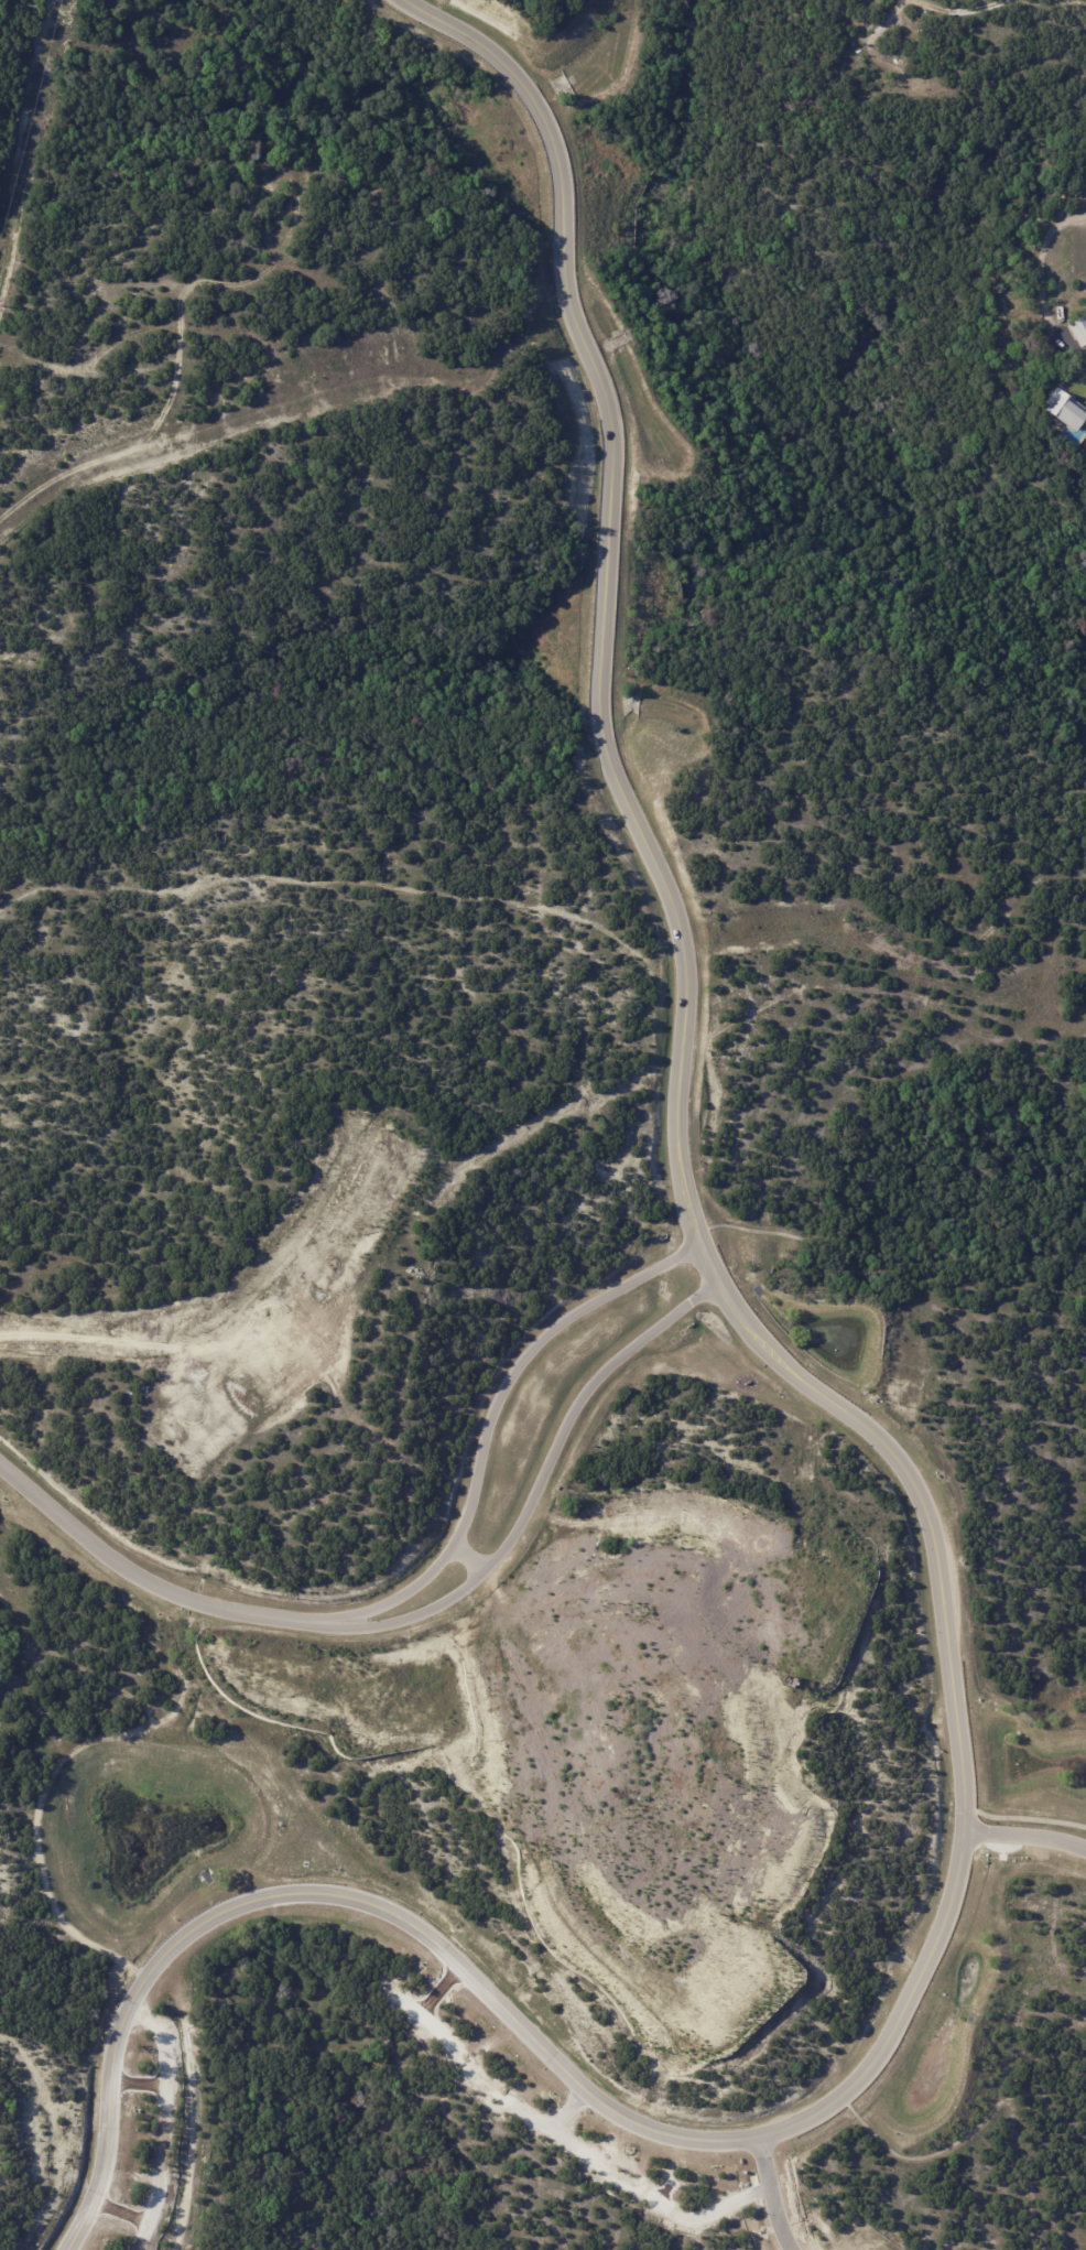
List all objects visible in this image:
power tower: (62, 11)
road: (1041, 286)
building: (1078, 327)
building: (1064, 408)
road: (189, 421)
road: (675, 918)
road: (217, 1319)
road: (488, 1432)
road: (535, 1494)
road: (480, 1570)
road: (139, 1578)
building: (159, 1637)
road: (1028, 1837)
road: (497, 2005)
road: (771, 2195)

